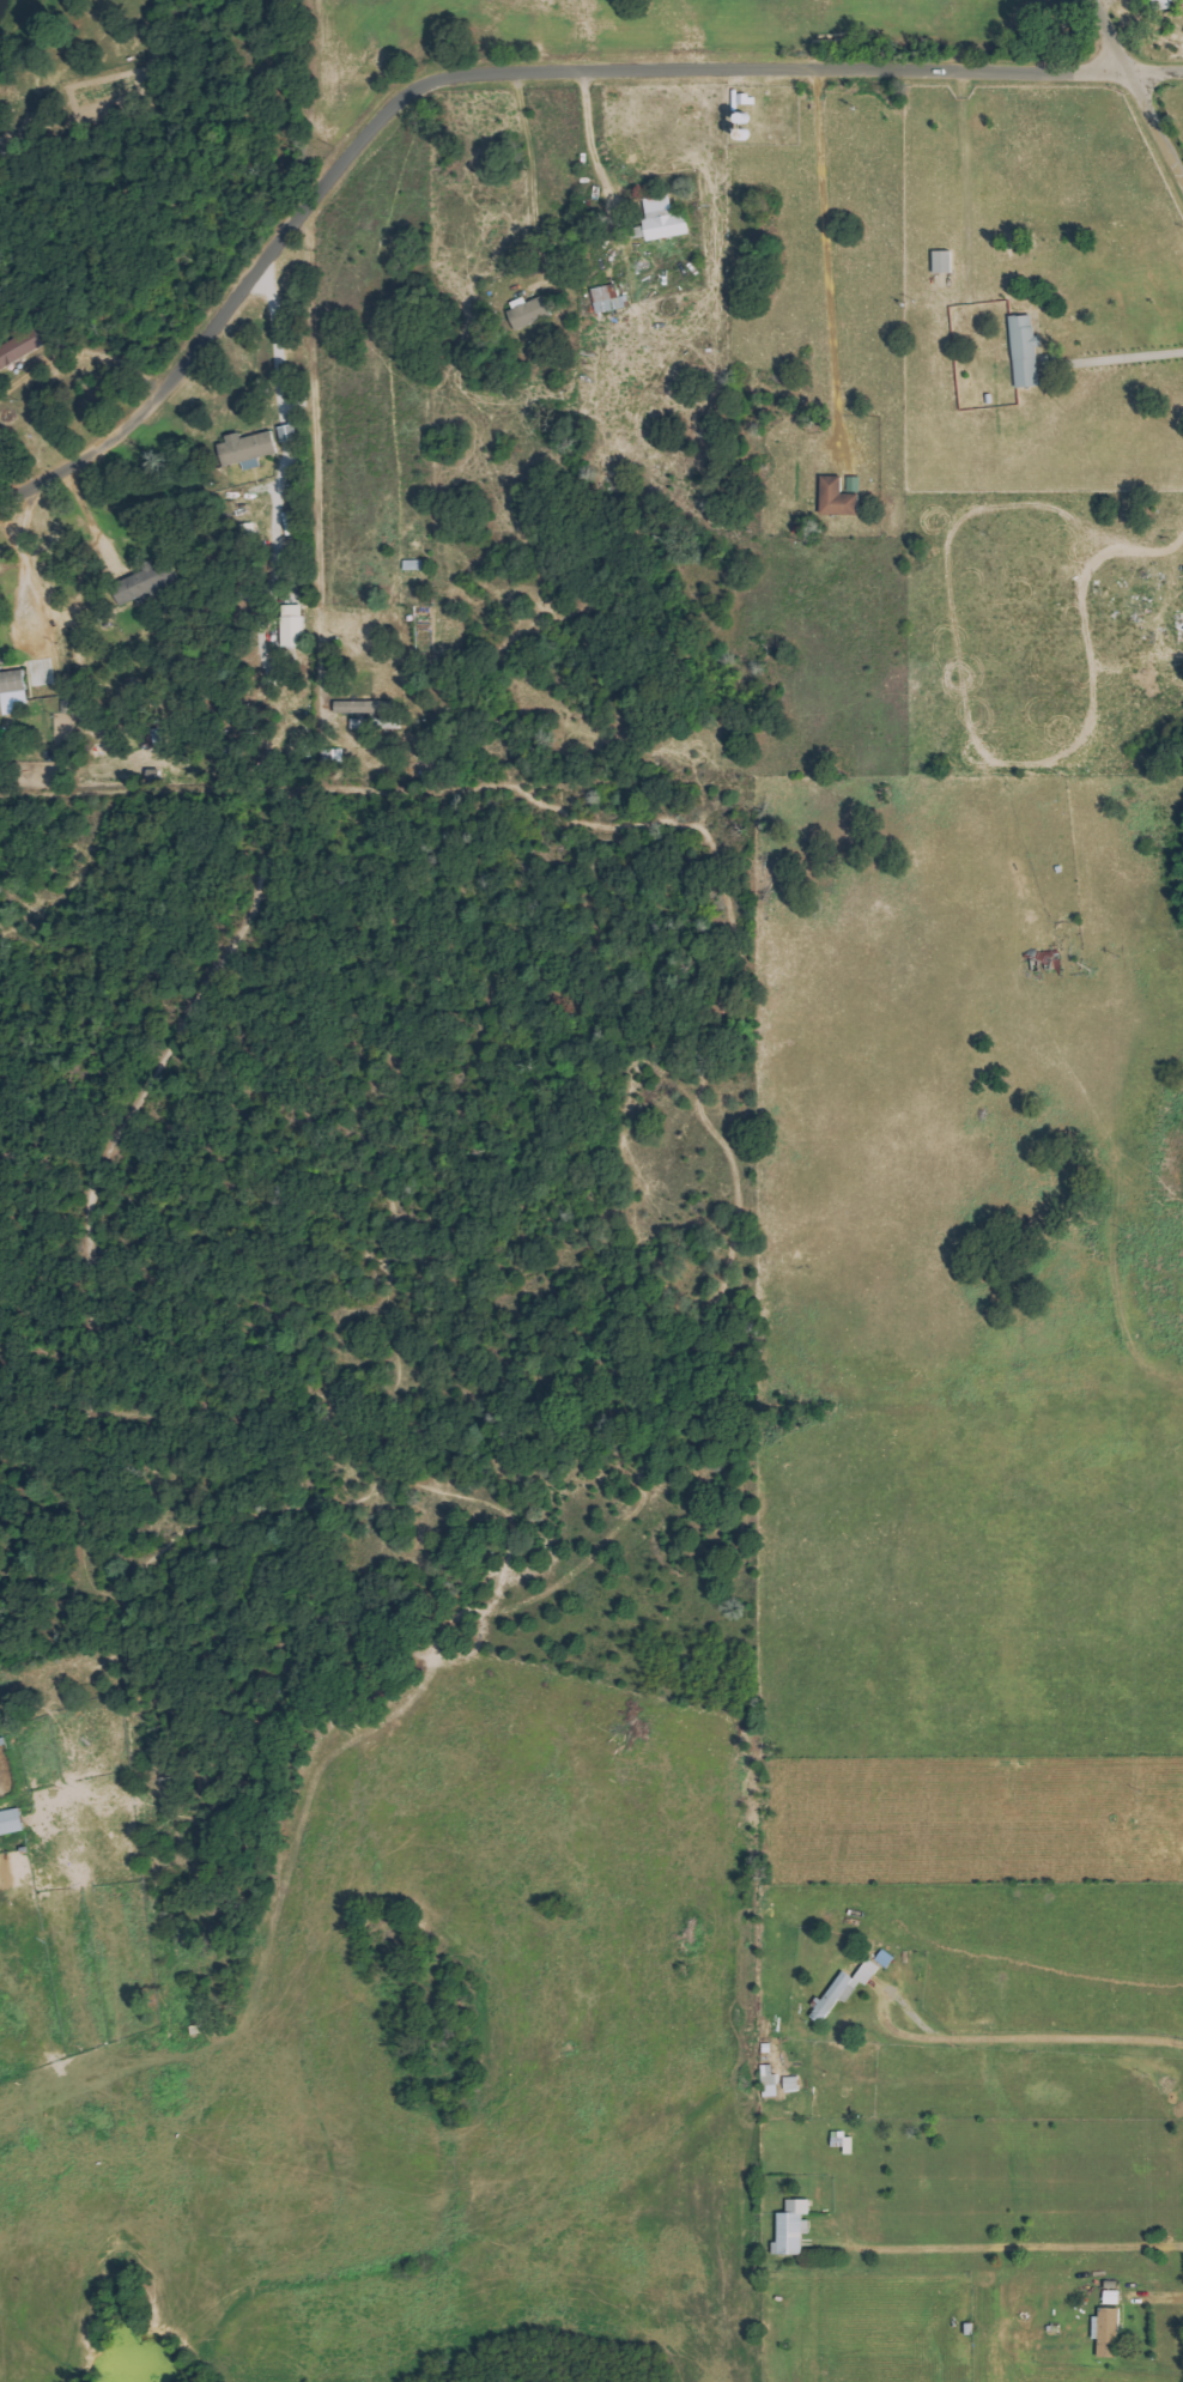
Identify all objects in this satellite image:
building: (1166, 2)
road: (500, 71)
road: (1134, 91)
building: (666, 219)
building: (945, 261)
building: (609, 299)
building: (530, 311)
building: (19, 347)
building: (1027, 351)
building: (249, 449)
building: (855, 484)
building: (839, 497)
building: (144, 580)
building: (296, 625)
building: (11, 685)
building: (154, 738)
building: (12, 1822)
building: (845, 1989)
building: (770, 2080)
building: (793, 2083)
building: (795, 2228)
building: (1110, 2331)

